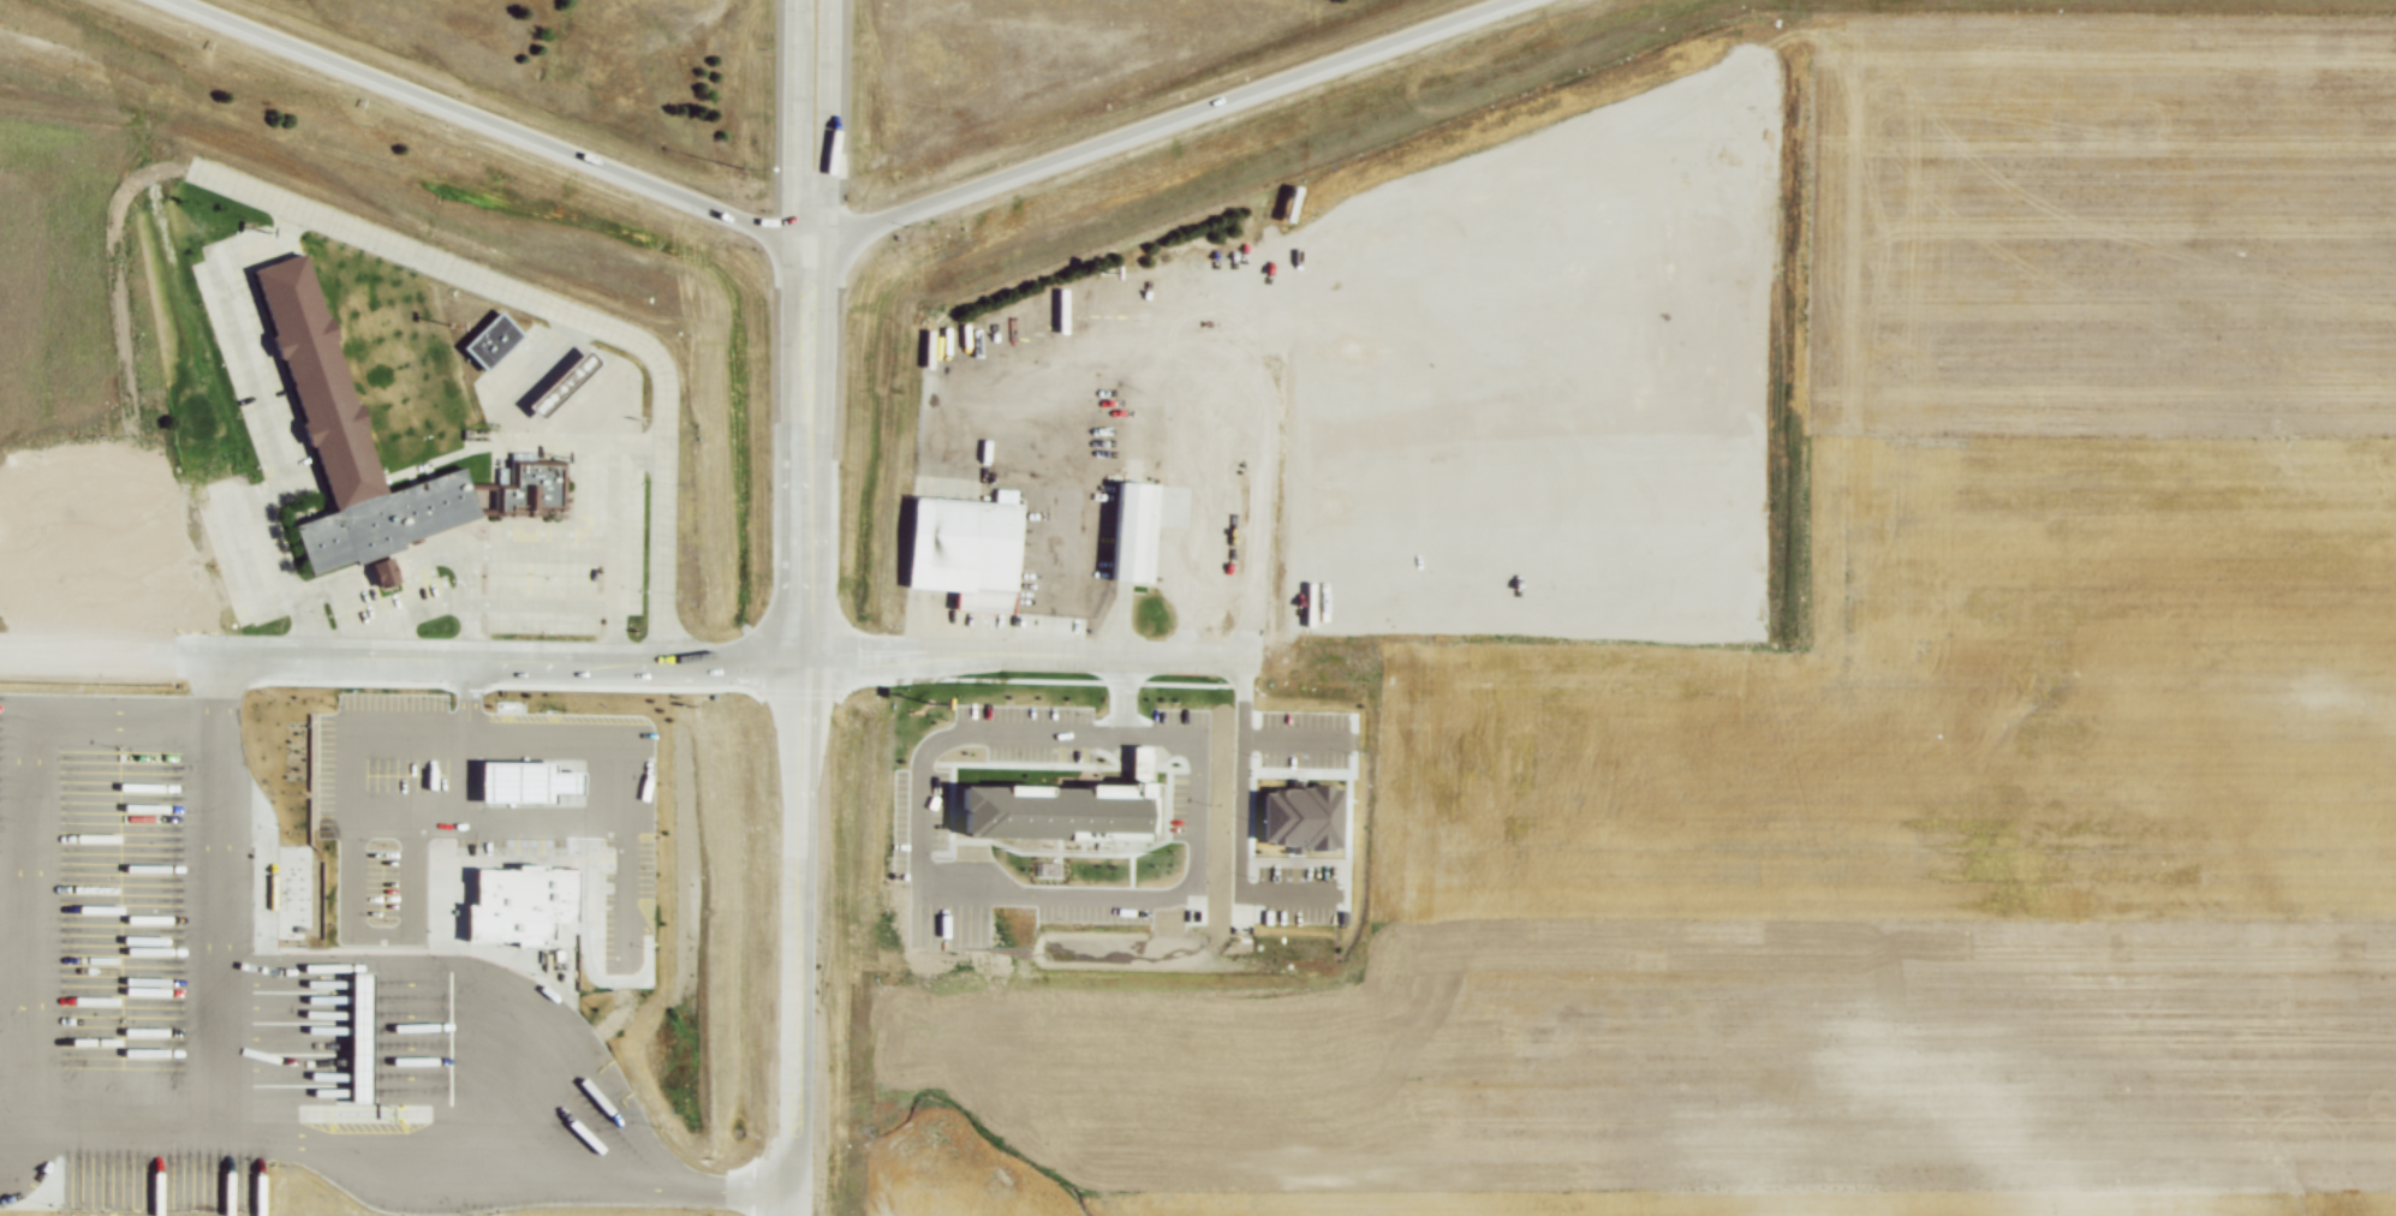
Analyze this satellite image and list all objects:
road: (795, 115)
road: (829, 115)
road: (481, 118)
road: (1155, 125)
street lamp: (745, 166)
road: (800, 251)
road: (817, 252)
road: (570, 316)
building: (488, 340)
street lamp: (681, 374)
building: (558, 386)
building: (339, 436)
street lamp: (683, 483)
building: (529, 485)
building: (1133, 531)
building: (964, 548)
street lamp: (681, 592)
street lamp: (902, 596)
road: (489, 652)
road: (1024, 652)
street lamp: (221, 663)
street lamp: (345, 664)
street lamp: (463, 667)
street lamp: (589, 672)
street lamp: (709, 673)
street lamp: (943, 675)
street lamp: (1095, 678)
street lamp: (1217, 680)
crop: (1896, 738)
road: (794, 744)

